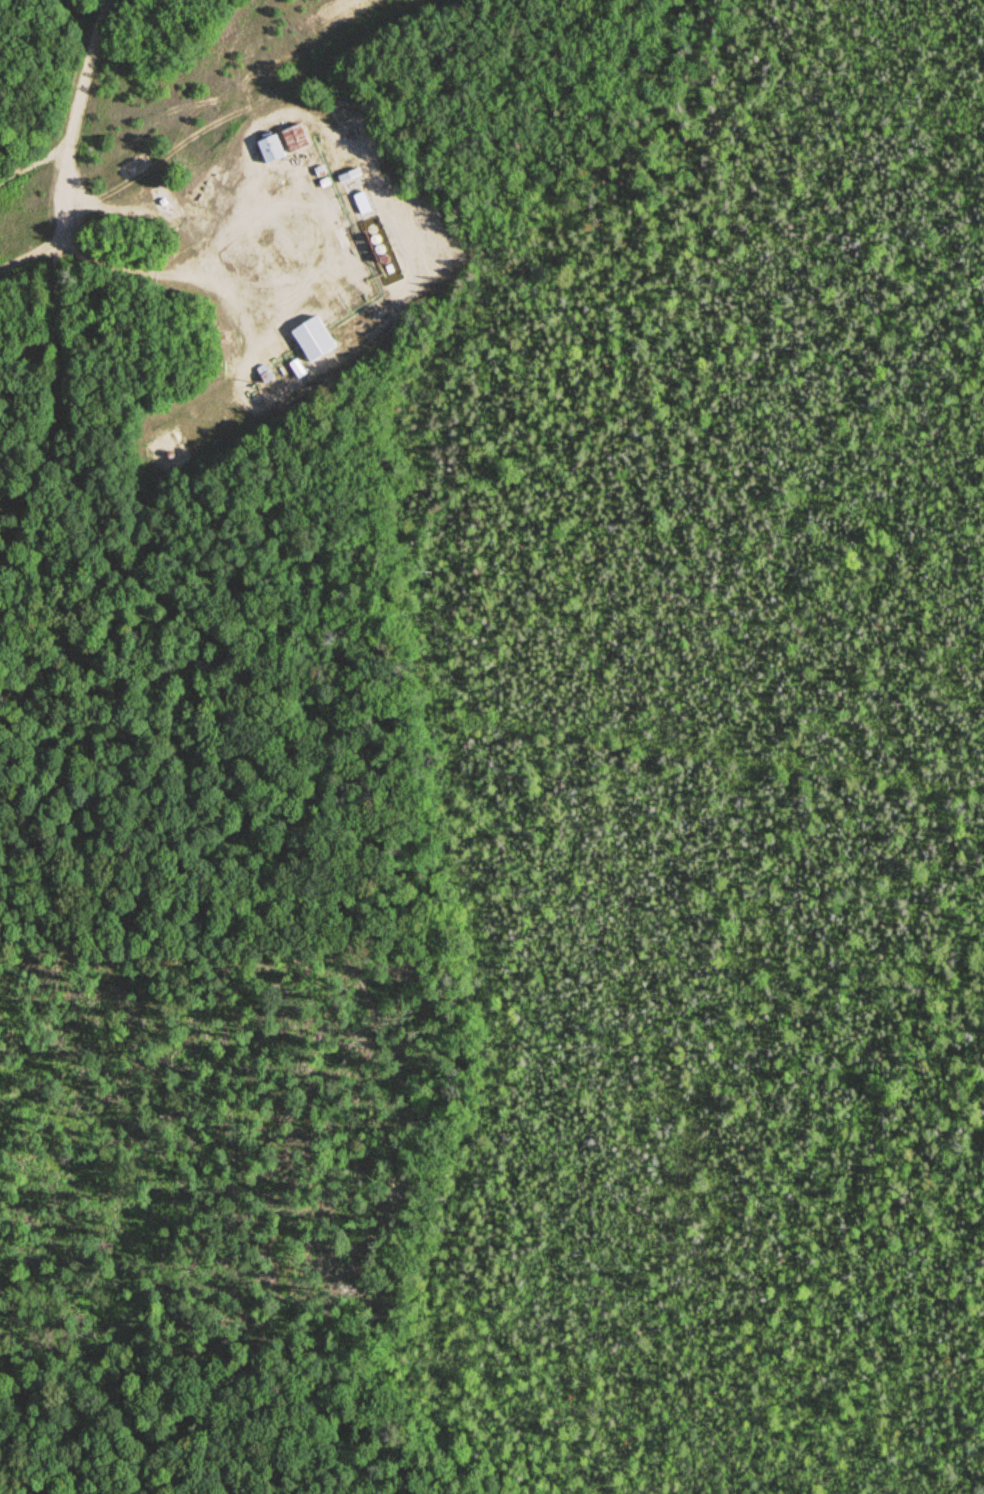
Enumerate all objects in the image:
road: (88, 71)
building: (350, 133)
building: (293, 137)
building: (271, 145)
road: (33, 163)
building: (318, 169)
building: (348, 174)
building: (324, 182)
building: (360, 201)
road: (394, 212)
petroleum well: (277, 248)
road: (33, 255)
road: (312, 269)
building: (378, 314)
building: (313, 338)
road: (64, 365)
building: (262, 372)
road: (201, 683)
road: (721, 757)

